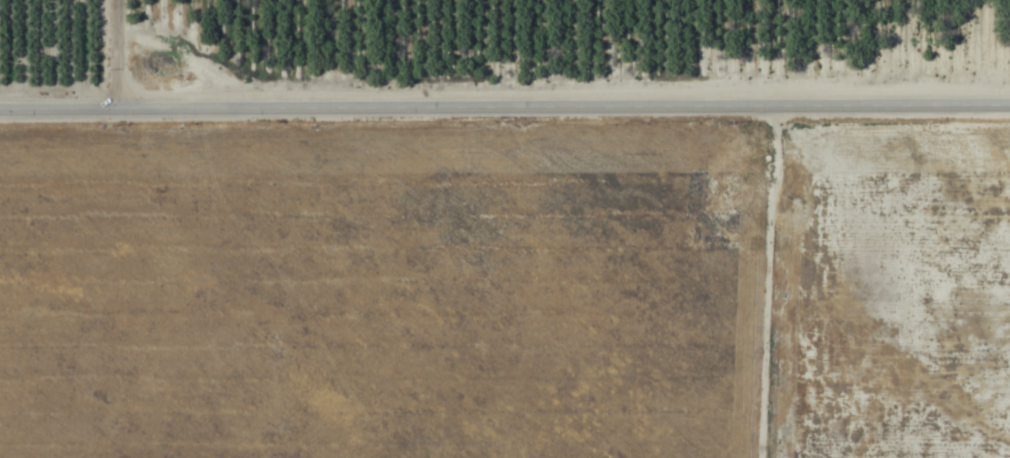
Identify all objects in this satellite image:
road: (104, 49)
road: (504, 98)
crop: (505, 229)

